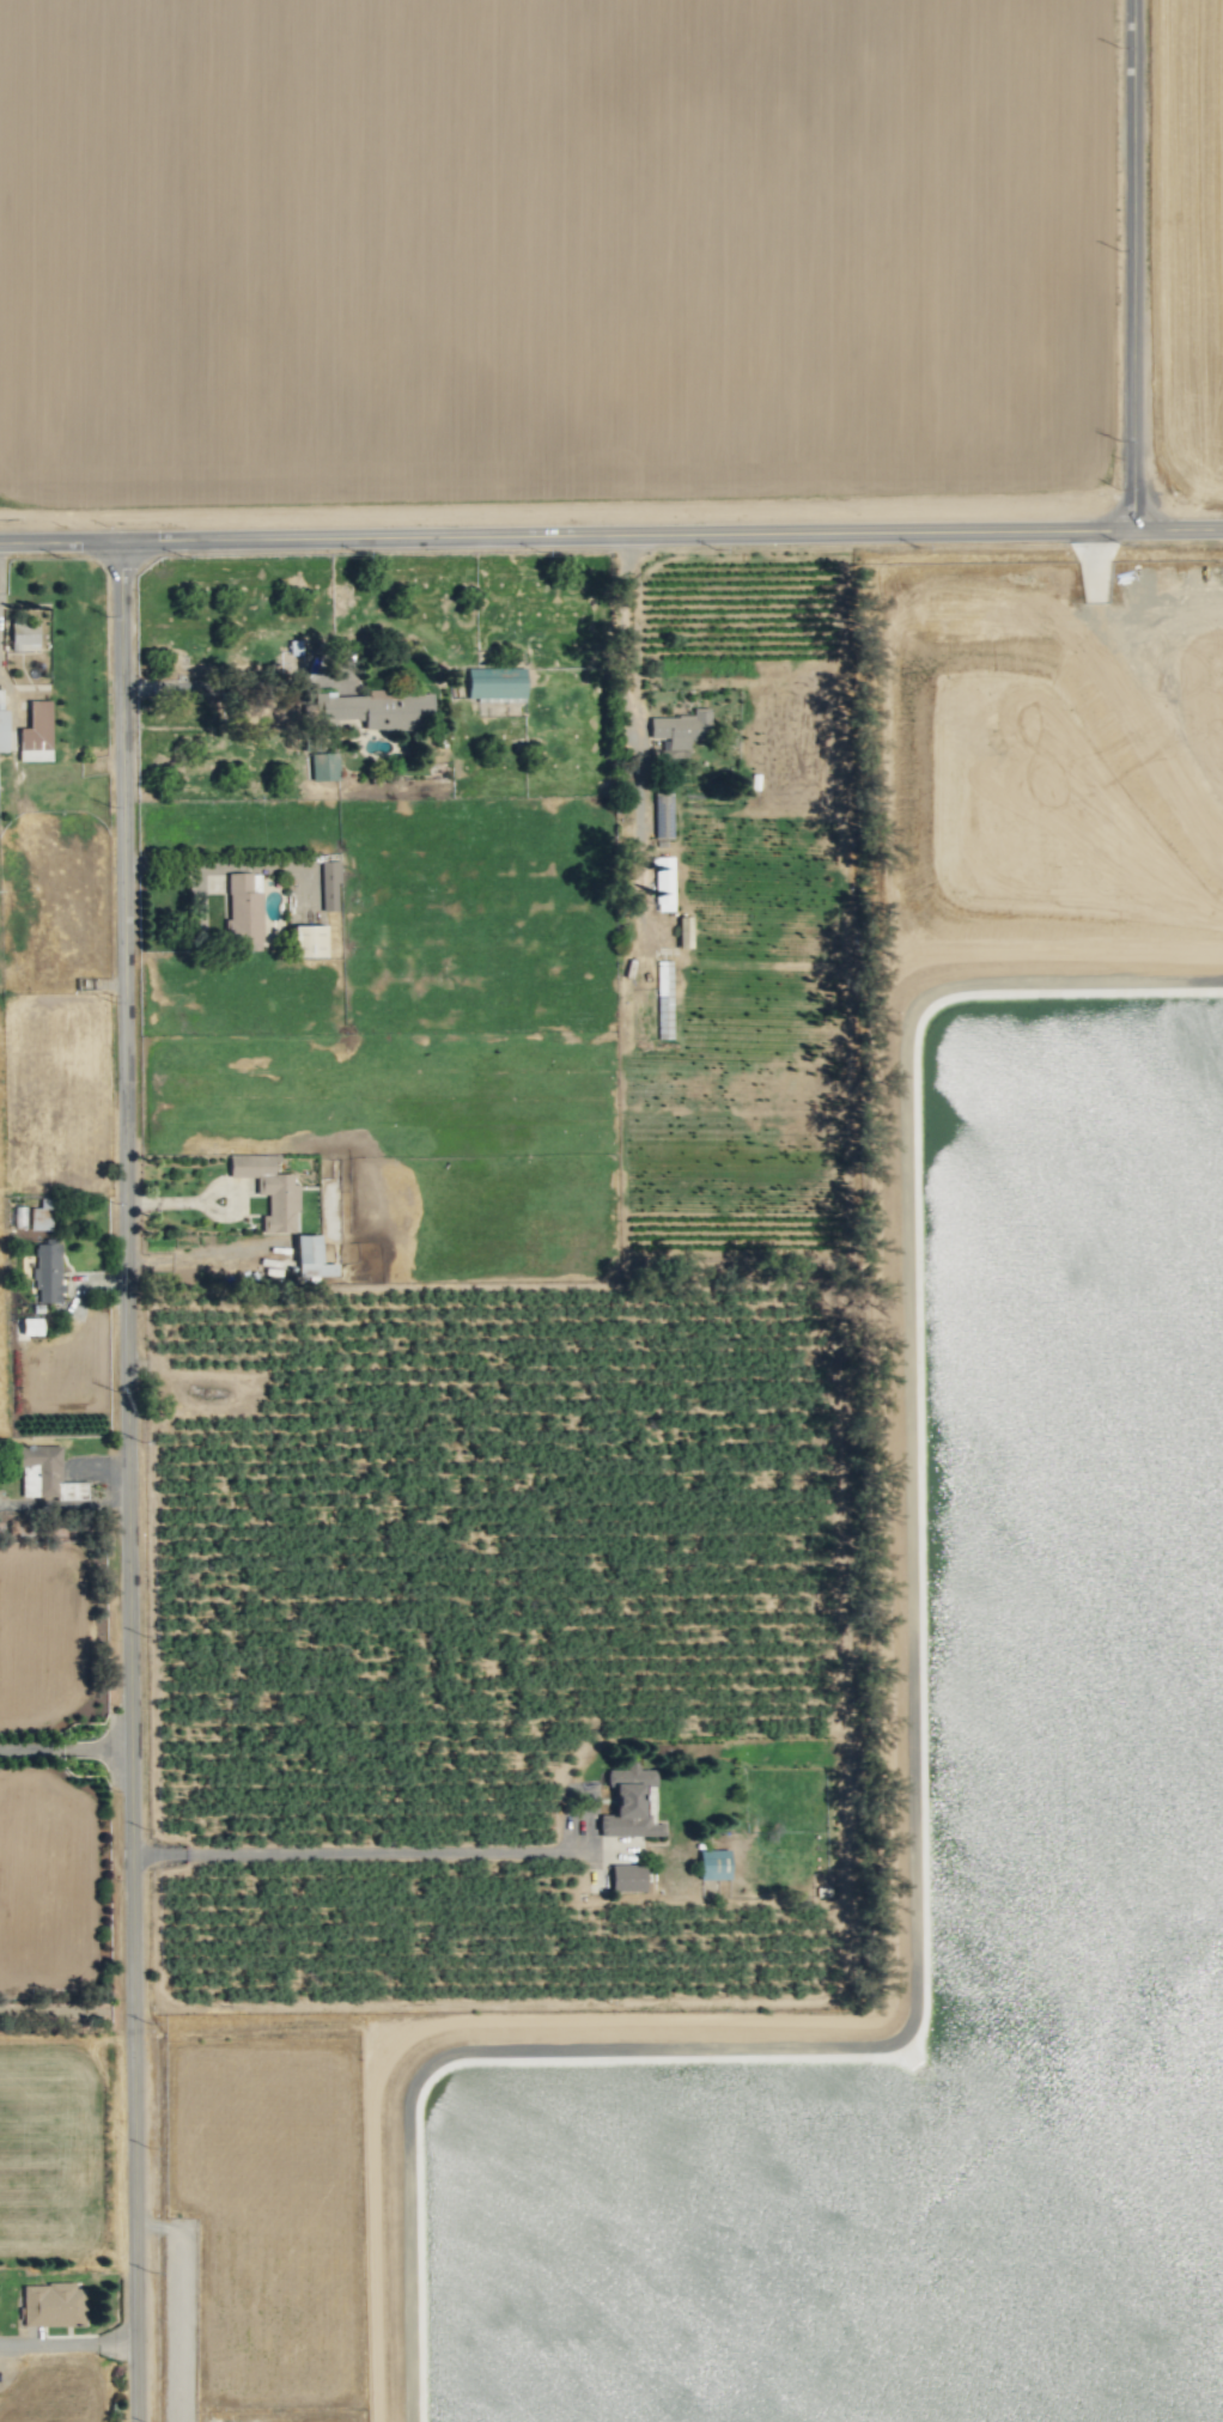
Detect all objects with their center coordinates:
road: (1137, 266)
road: (610, 537)
road: (623, 631)
building: (23, 637)
road: (221, 681)
building: (495, 684)
building: (373, 708)
building: (2, 726)
building: (681, 728)
building: (36, 732)
building: (662, 815)
building: (663, 883)
building: (328, 886)
building: (244, 911)
building: (683, 932)
building: (309, 941)
building: (664, 999)
building: (269, 1189)
building: (39, 1216)
building: (310, 1259)
building: (45, 1271)
building: (30, 1326)
building: (49, 1472)
road: (127, 1481)
road: (65, 1751)
building: (631, 1803)
road: (357, 1851)
building: (713, 1864)
building: (627, 1878)
road: (182, 2301)
building: (53, 2305)
road: (67, 2348)

